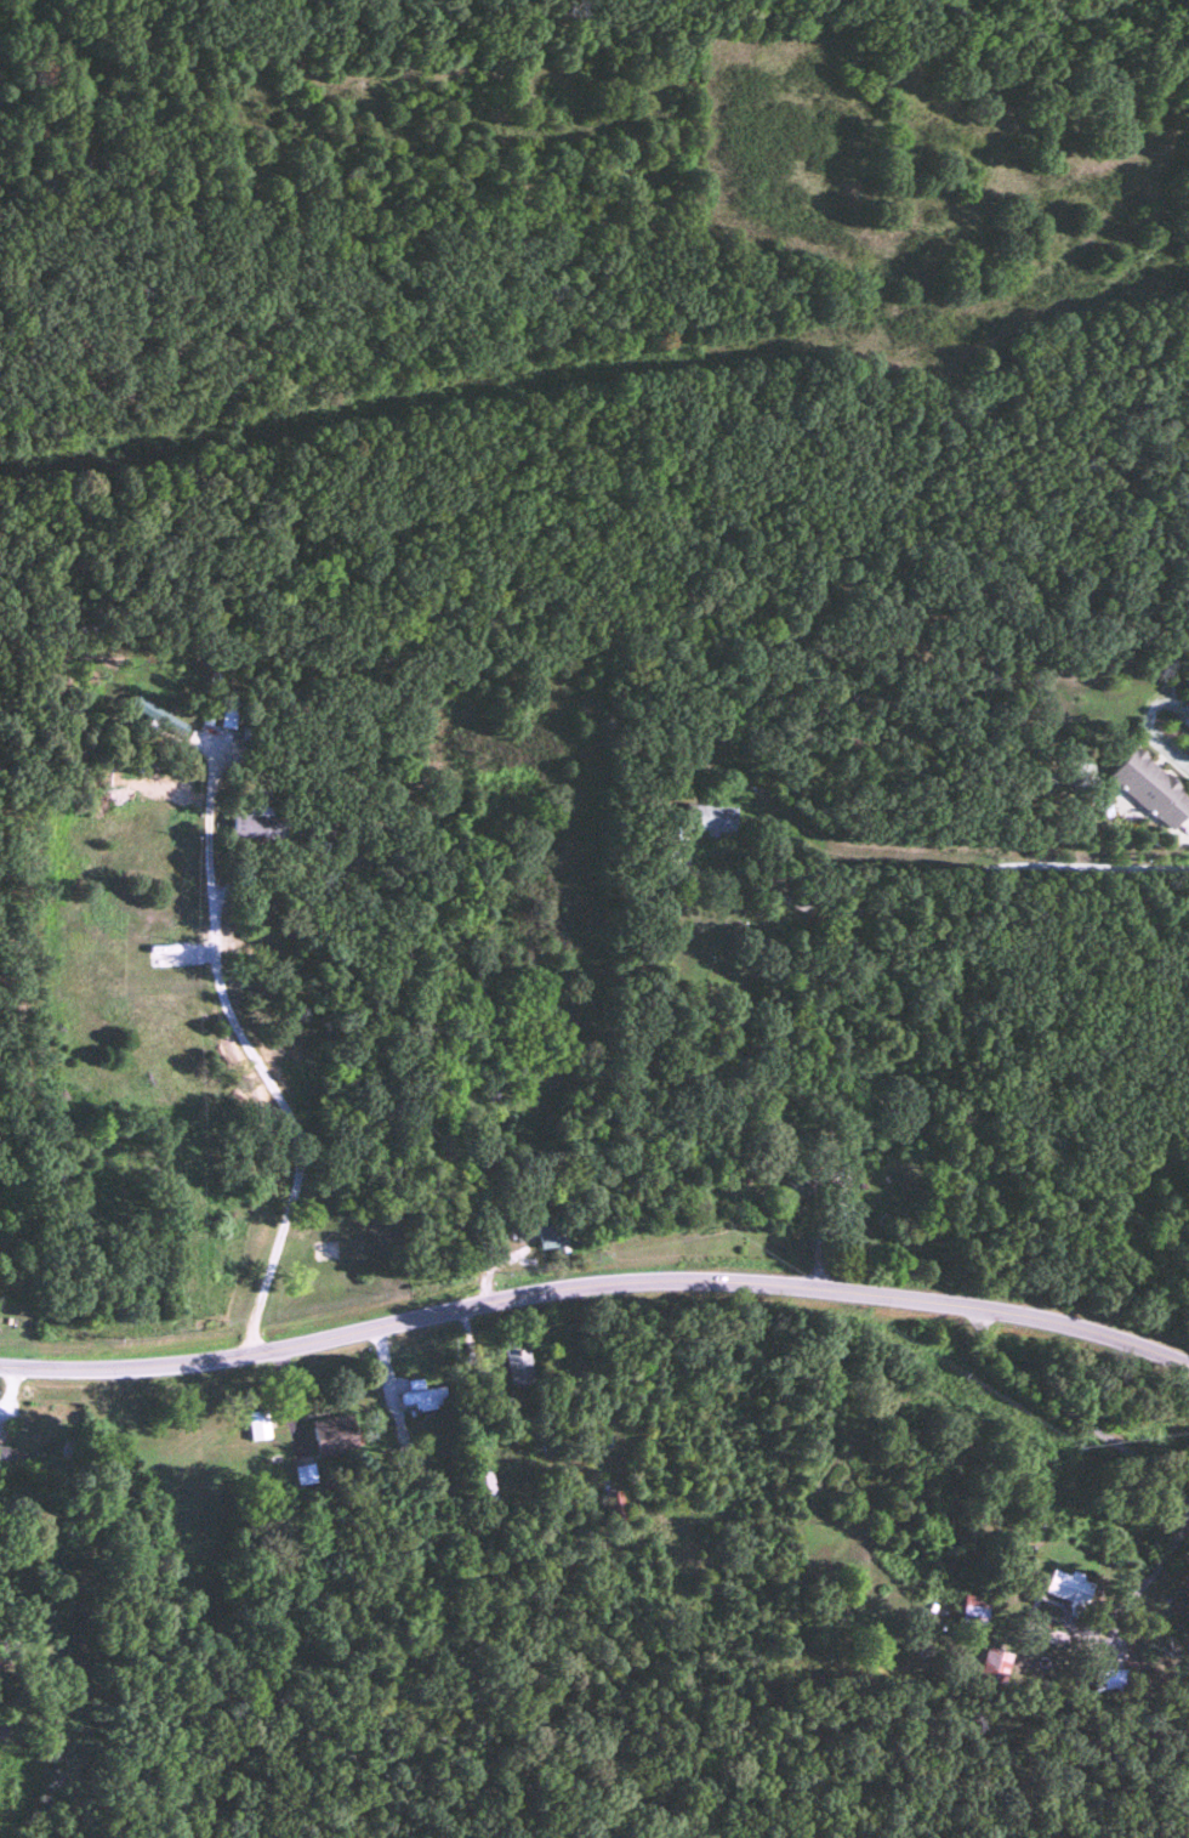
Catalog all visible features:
building: (132, 759)
building: (1147, 785)
building: (712, 816)
building: (256, 821)
road: (968, 862)
road: (229, 1022)
road: (596, 1286)
building: (420, 1400)
building: (256, 1426)
building: (334, 1435)
building: (52, 1437)
road: (1128, 1458)
building: (7, 1459)
building: (302, 1476)
building: (478, 1486)
building: (1066, 1590)
building: (971, 1611)
building: (991, 1666)
building: (1105, 1683)

